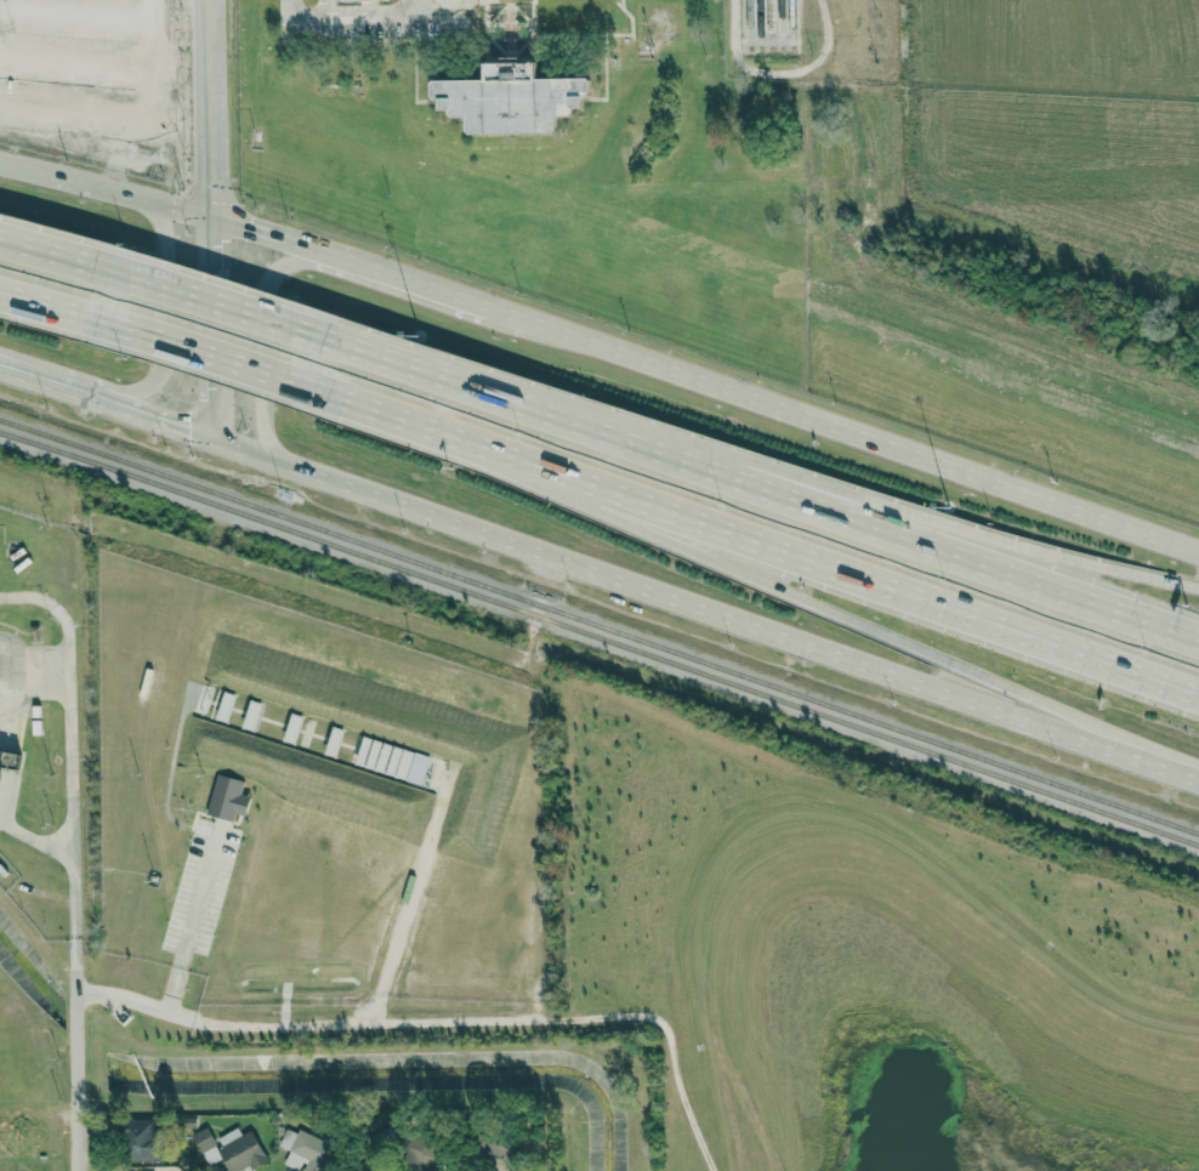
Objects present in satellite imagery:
road: (417, 6)
road: (326, 7)
road: (366, 7)
road: (374, 13)
railway: (769, 23)
railway: (780, 23)
railway: (791, 23)
railway: (749, 24)
railway: (760, 24)
building: (510, 101)
road: (218, 113)
road: (110, 192)
traffic signals: (221, 227)
road: (265, 238)
road: (42, 258)
road: (398, 278)
road: (189, 306)
road: (41, 309)
road: (165, 309)
road: (217, 329)
road: (260, 341)
road: (182, 352)
road: (61, 383)
road: (167, 416)
road: (843, 431)
traffic signals: (214, 432)
road: (422, 432)
road: (746, 483)
road: (881, 507)
road: (881, 589)
road: (49, 601)
road: (704, 608)
road: (830, 612)
railway: (599, 625)
railway: (599, 636)
building: (8, 757)
building: (413, 766)
building: (228, 797)
road: (35, 839)
road: (74, 906)
road: (191, 922)
road: (314, 1029)
building: (138, 1141)
building: (231, 1148)
building: (305, 1150)
building: (421, 1153)

